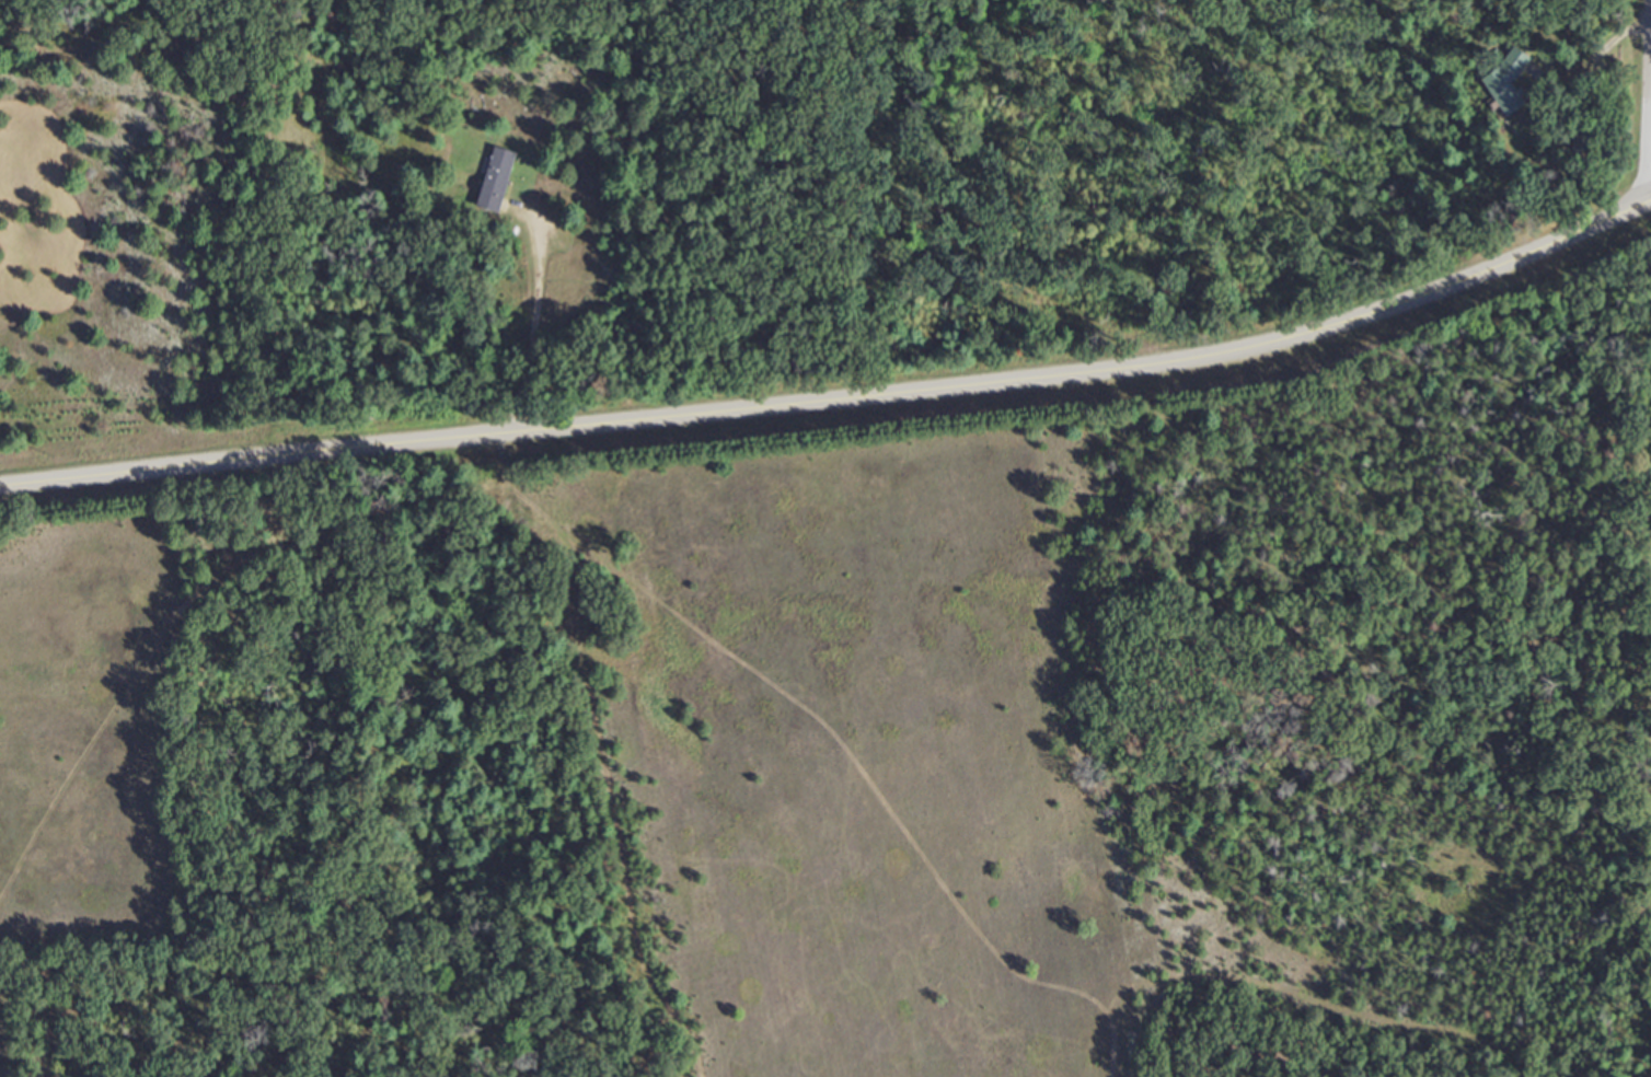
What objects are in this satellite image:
road: (1595, 53)
building: (1506, 84)
building: (495, 179)
road: (533, 314)
road: (840, 395)

